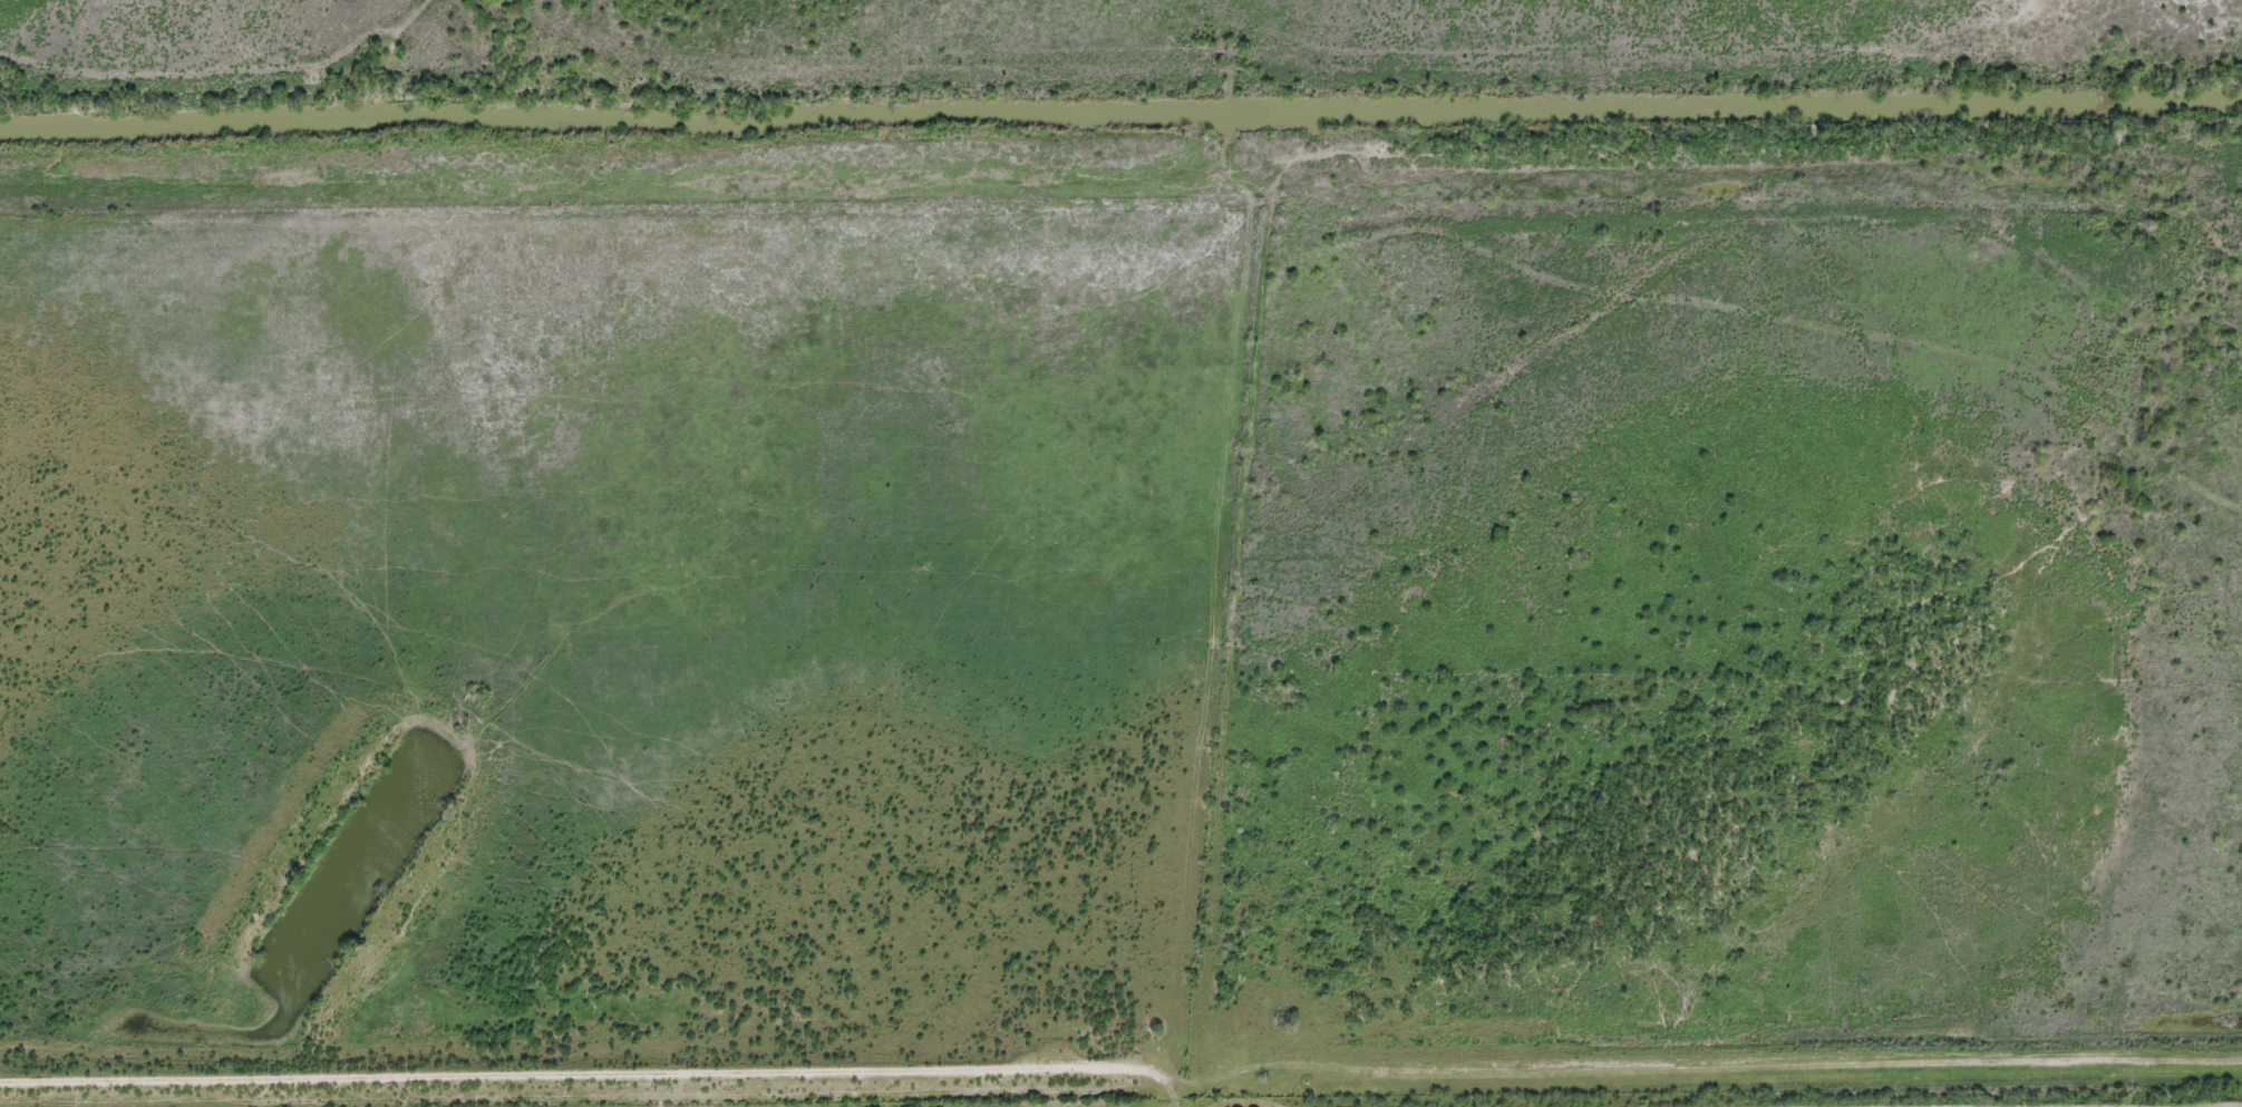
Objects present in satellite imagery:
road: (550, 1075)

